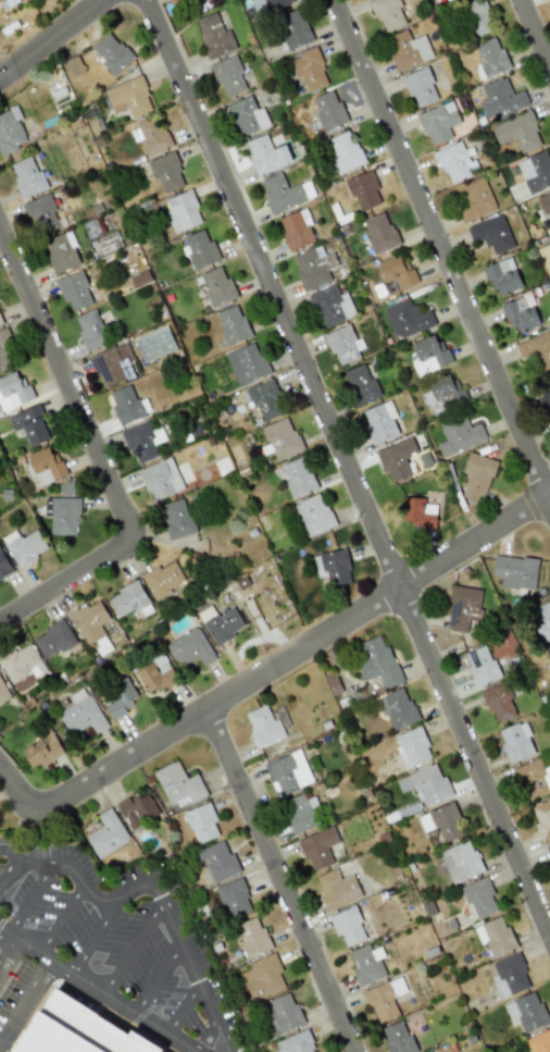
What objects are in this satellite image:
building: (180, 0)
building: (268, 5)
building: (387, 13)
building: (477, 17)
building: (293, 28)
road: (535, 34)
building: (214, 35)
road: (53, 41)
building: (408, 49)
building: (112, 53)
building: (490, 59)
building: (75, 65)
building: (310, 71)
building: (228, 76)
building: (420, 86)
building: (128, 96)
building: (501, 98)
building: (328, 110)
building: (247, 115)
building: (438, 122)
building: (10, 129)
building: (517, 132)
building: (150, 135)
building: (345, 151)
building: (266, 153)
building: (454, 162)
building: (535, 171)
building: (166, 172)
building: (27, 176)
building: (363, 190)
building: (280, 193)
building: (475, 200)
building: (545, 205)
power tower: (153, 208)
building: (182, 211)
building: (41, 214)
building: (90, 228)
building: (296, 230)
building: (377, 234)
building: (491, 234)
building: (103, 244)
road: (439, 248)
building: (199, 249)
building: (61, 251)
building: (313, 268)
building: (397, 272)
building: (502, 275)
building: (216, 286)
building: (74, 290)
building: (332, 306)
building: (520, 314)
building: (407, 319)
building: (0, 322)
building: (233, 324)
building: (90, 330)
building: (154, 344)
building: (342, 344)
building: (536, 350)
building: (4, 352)
building: (429, 355)
building: (110, 363)
building: (247, 363)
building: (361, 383)
building: (13, 389)
building: (442, 394)
building: (263, 399)
building: (545, 401)
building: (125, 404)
building: (379, 421)
building: (29, 424)
building: (459, 434)
building: (280, 438)
building: (141, 441)
road: (97, 457)
building: (396, 459)
building: (45, 466)
road: (346, 466)
building: (477, 475)
building: (298, 477)
building: (161, 479)
building: (66, 487)
building: (418, 512)
building: (62, 515)
building: (312, 515)
building: (177, 518)
building: (24, 546)
building: (3, 565)
building: (333, 567)
building: (515, 571)
building: (163, 579)
building: (128, 599)
building: (463, 608)
building: (541, 620)
building: (90, 624)
building: (223, 624)
building: (53, 639)
building: (189, 647)
building: (549, 651)
road: (292, 653)
building: (378, 661)
building: (480, 665)
building: (22, 666)
building: (155, 673)
building: (3, 692)
building: (118, 698)
power tower: (364, 701)
building: (499, 703)
building: (397, 708)
building: (80, 713)
building: (263, 726)
building: (516, 742)
building: (412, 746)
building: (42, 751)
building: (289, 771)
building: (534, 779)
building: (178, 784)
building: (425, 784)
road: (17, 795)
building: (138, 809)
building: (301, 813)
building: (541, 818)
building: (442, 821)
building: (201, 822)
building: (105, 834)
building: (318, 847)
building: (549, 847)
road: (14, 857)
building: (217, 859)
building: (461, 862)
road: (9, 872)
road: (283, 879)
building: (336, 889)
building: (478, 898)
road: (28, 899)
building: (235, 899)
road: (163, 905)
road: (60, 917)
building: (348, 925)
road: (3, 932)
road: (95, 935)
building: (495, 936)
building: (252, 937)
road: (132, 948)
road: (9, 952)
building: (366, 964)
building: (510, 975)
building: (262, 977)
road: (158, 978)
road: (97, 990)
building: (385, 999)
road: (25, 1001)
road: (184, 1008)
building: (525, 1012)
building: (282, 1014)
road: (210, 1020)
building: (76, 1030)
building: (397, 1038)
building: (539, 1041)
building: (296, 1043)

